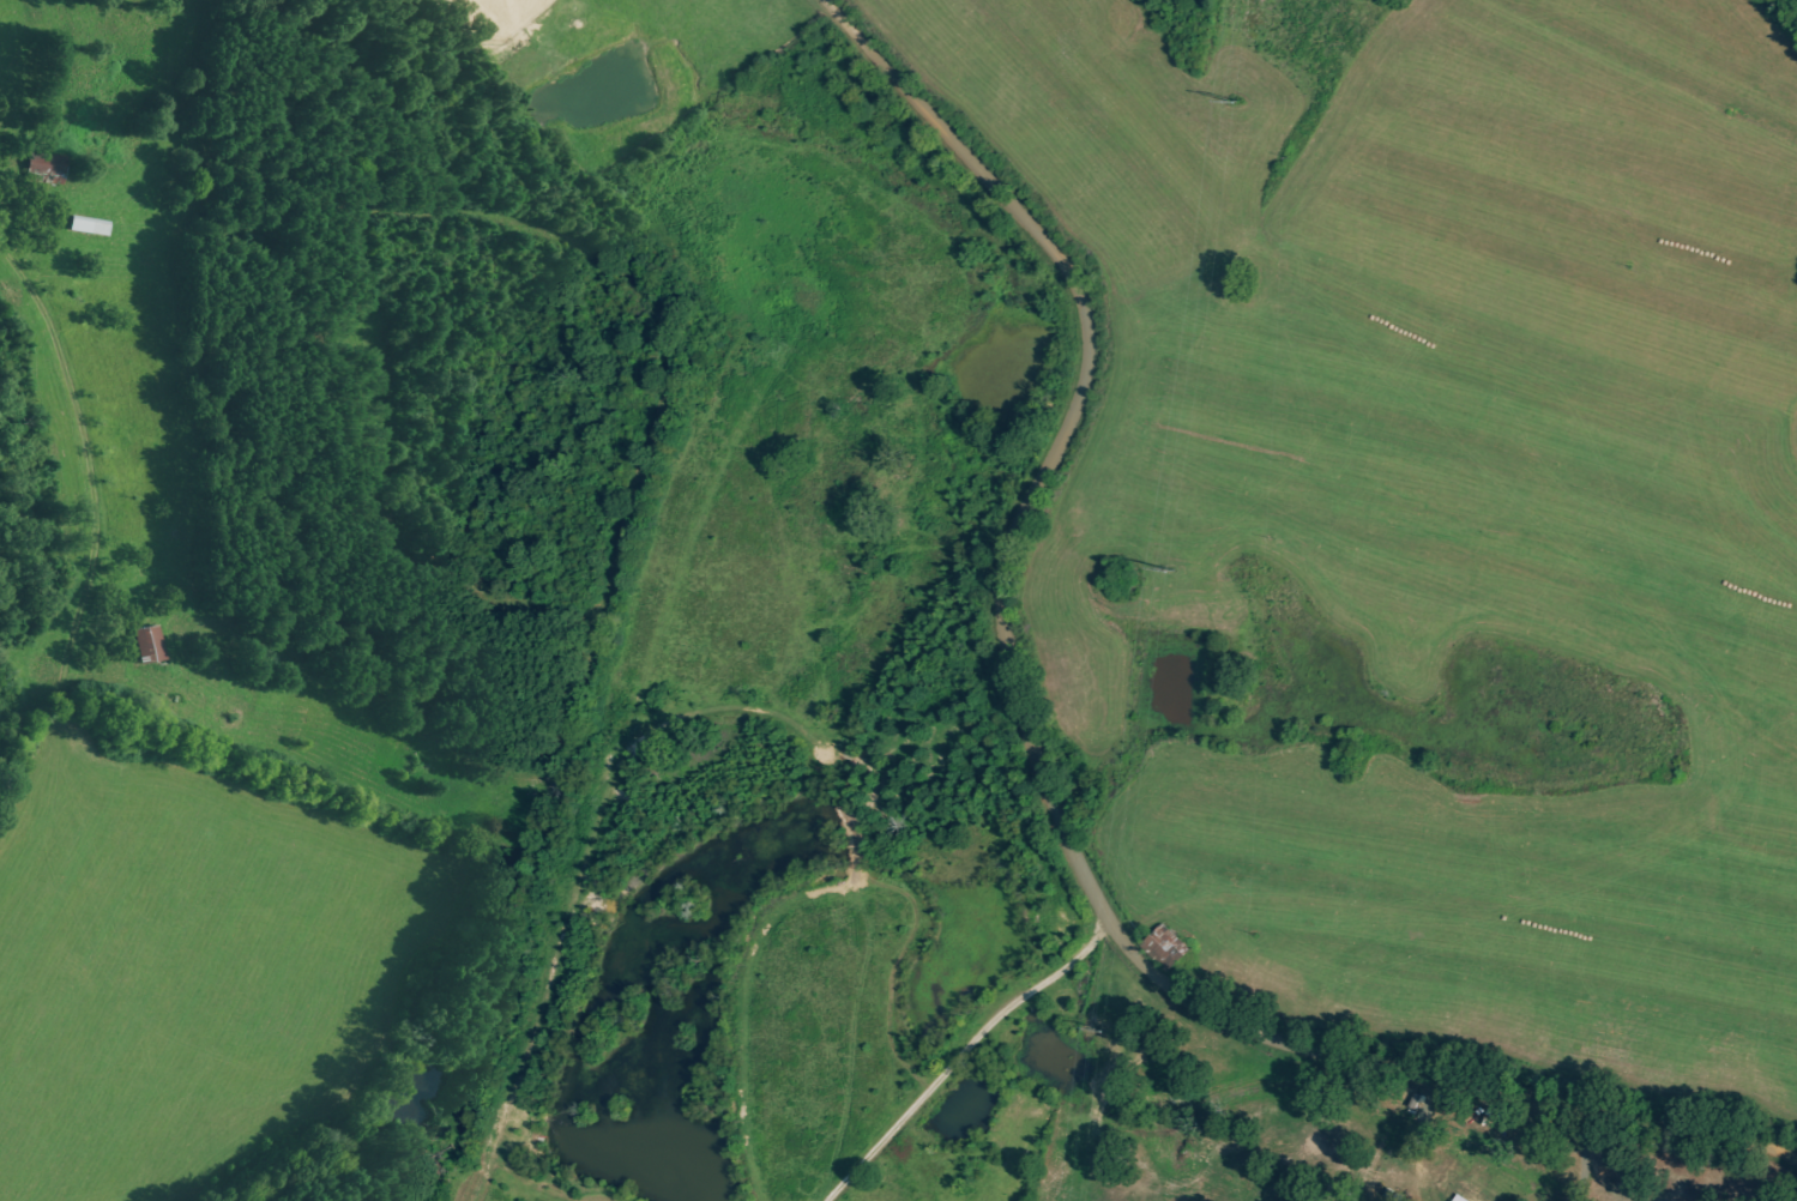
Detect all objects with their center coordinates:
building: (50, 167)
road: (72, 451)
building: (150, 645)
road: (1026, 792)
building: (1168, 948)
building: (1464, 1199)

